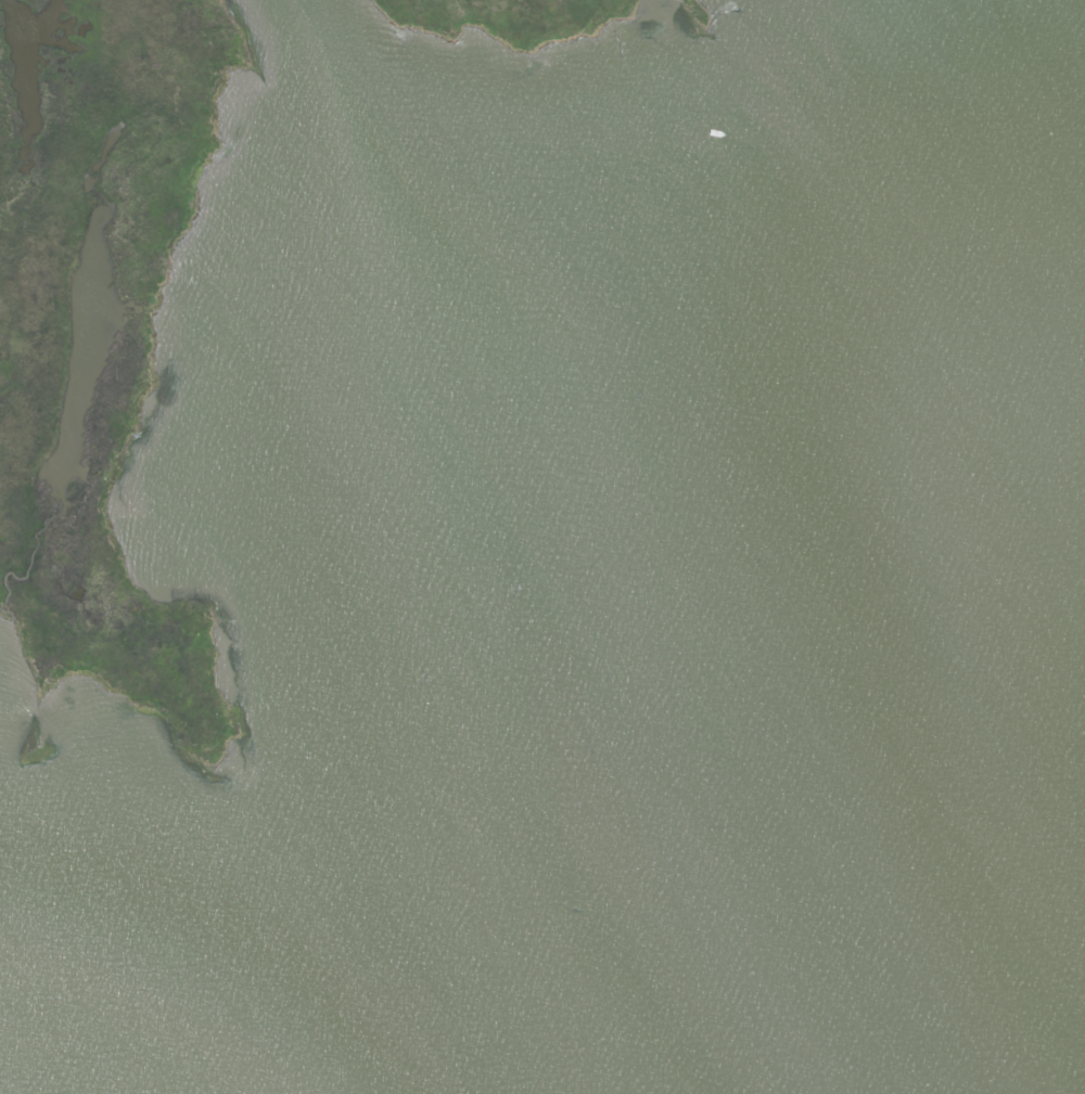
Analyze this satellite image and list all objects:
river: (311, 153)

